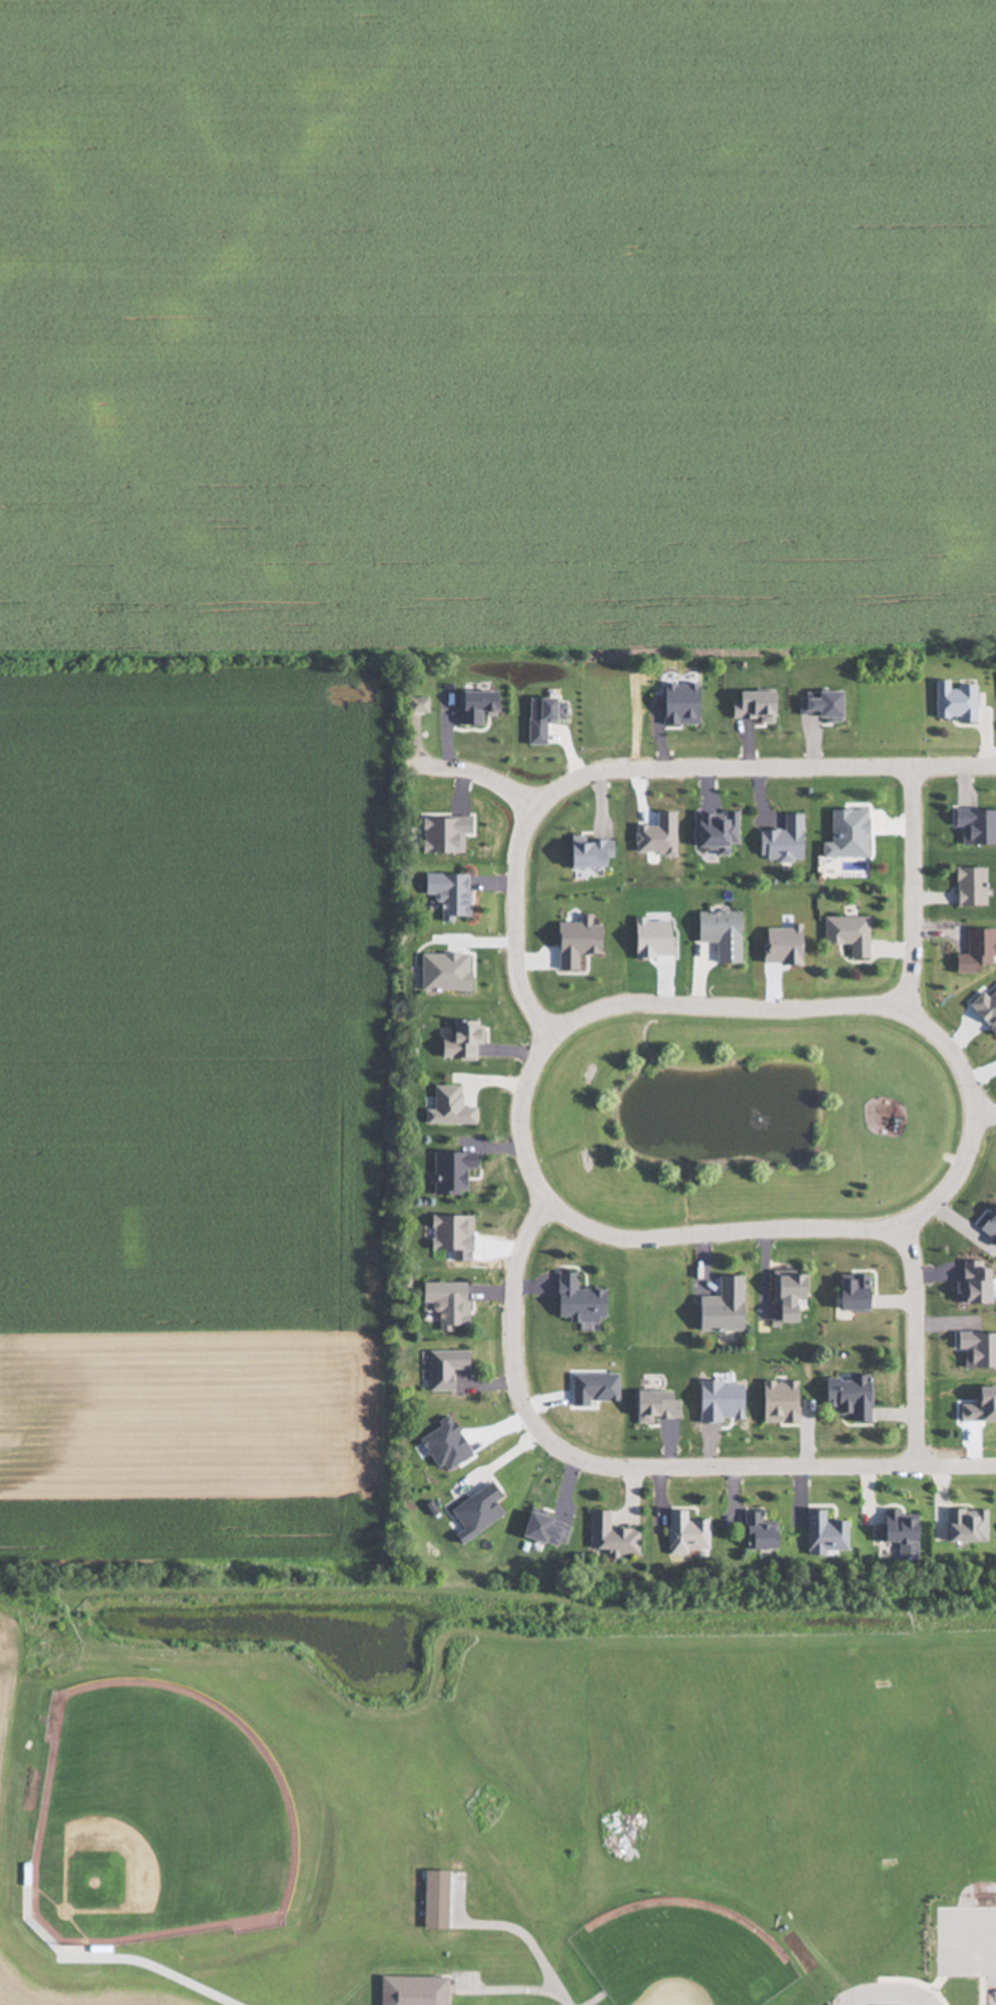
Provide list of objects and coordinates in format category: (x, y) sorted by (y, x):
building: (951, 702)
building: (415, 706)
road: (639, 769)
road: (478, 777)
building: (779, 841)
road: (911, 886)
building: (966, 887)
building: (445, 894)
building: (718, 934)
building: (845, 934)
building: (974, 951)
building: (459, 1042)
road: (523, 1092)
building: (446, 1108)
road: (986, 1114)
building: (450, 1172)
building: (850, 1293)
building: (784, 1298)
building: (576, 1301)
building: (444, 1303)
building: (720, 1307)
road: (914, 1347)
building: (443, 1368)
building: (846, 1396)
road: (639, 1466)
building: (963, 1526)
building: (895, 1527)
building: (757, 1533)
building: (685, 1534)
building: (609, 1538)
building: (410, 1990)

